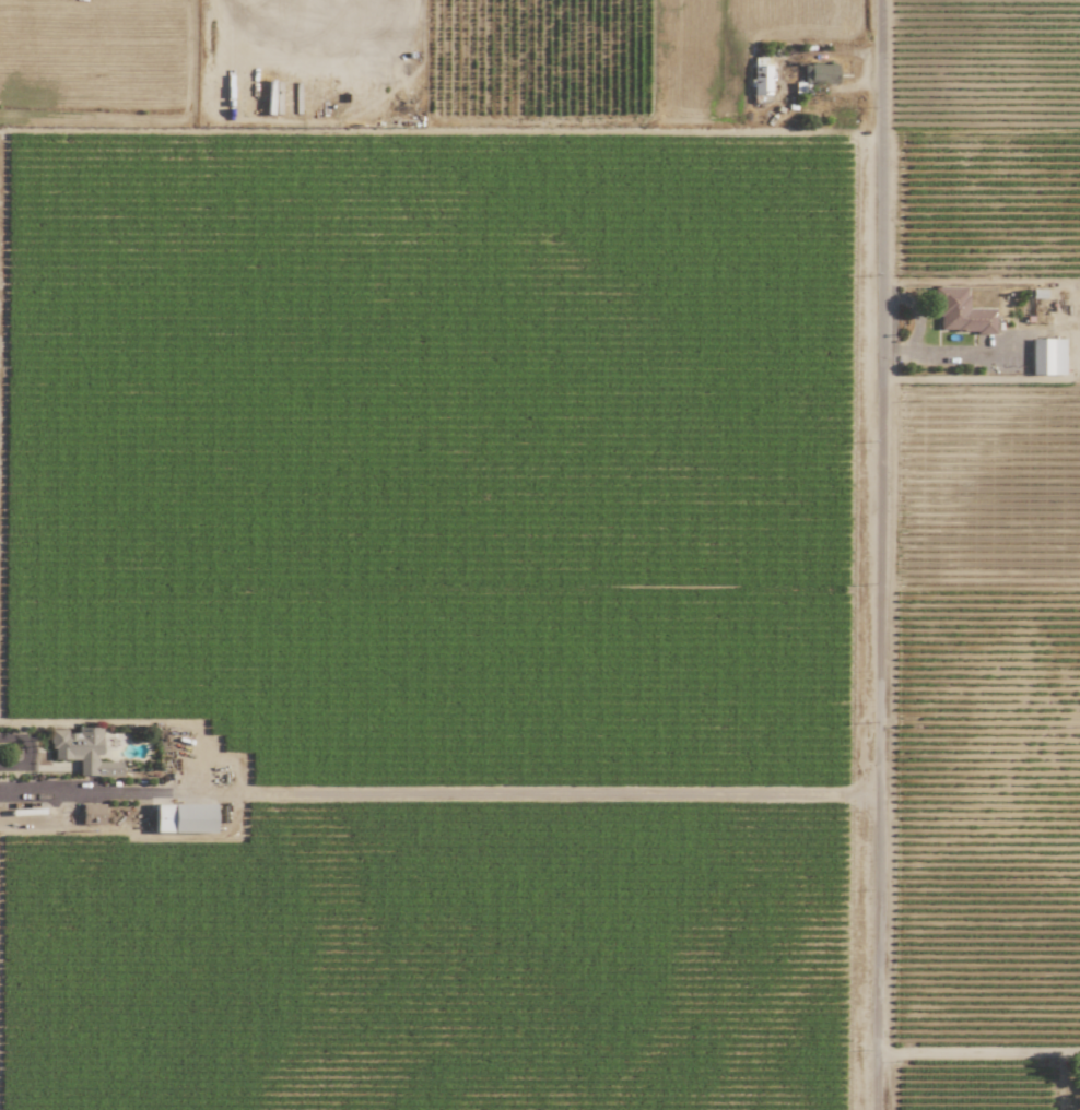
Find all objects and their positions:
building: (820, 74)
building: (761, 80)
building: (959, 312)
building: (1046, 356)
road: (880, 555)
building: (83, 752)
road: (75, 793)
building: (92, 814)
building: (184, 818)
road: (979, 1052)
building: (1079, 1082)

